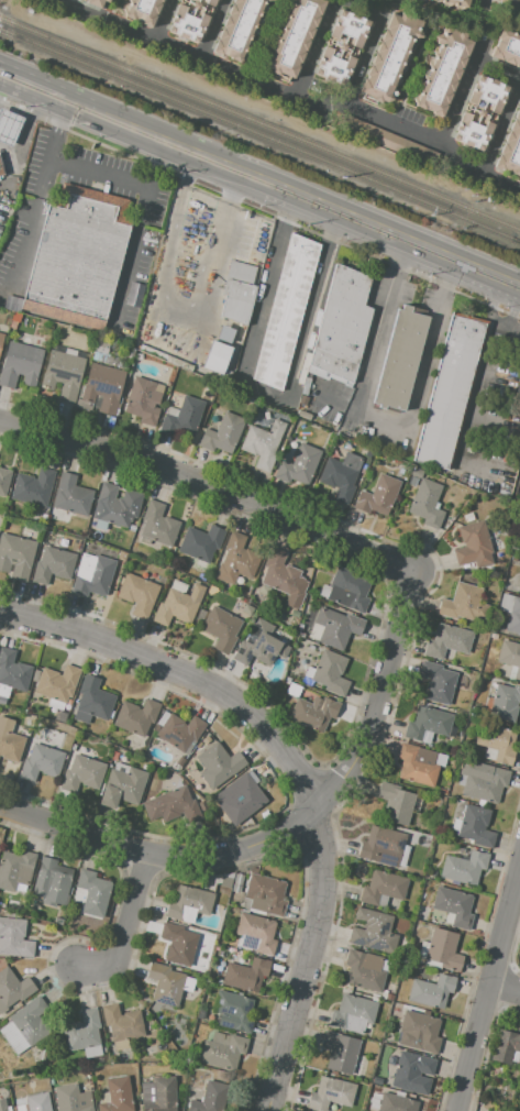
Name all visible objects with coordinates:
building: (96, 2)
building: (509, 2)
building: (447, 3)
road: (477, 4)
building: (143, 11)
road: (161, 20)
building: (189, 20)
building: (239, 29)
road: (210, 30)
building: (294, 36)
building: (341, 46)
building: (507, 48)
road: (313, 50)
road: (363, 56)
building: (389, 57)
building: (442, 70)
road: (496, 71)
road: (3, 82)
road: (31, 87)
road: (458, 94)
road: (290, 97)
road: (79, 107)
road: (36, 108)
building: (478, 112)
railway: (259, 123)
building: (8, 127)
gas station: (8, 127)
road: (500, 127)
railway: (259, 134)
building: (389, 141)
road: (18, 144)
building: (510, 148)
road: (161, 165)
building: (1, 172)
road: (34, 194)
road: (308, 202)
road: (225, 204)
road: (147, 205)
building: (0, 229)
building: (76, 264)
road: (163, 280)
building: (237, 293)
building: (287, 312)
road: (490, 313)
building: (15, 318)
building: (342, 323)
building: (12, 324)
building: (224, 334)
building: (1, 338)
building: (102, 348)
building: (129, 353)
building: (137, 356)
building: (215, 358)
building: (399, 359)
building: (20, 364)
road: (486, 366)
building: (63, 374)
building: (228, 374)
building: (187, 376)
building: (199, 380)
building: (102, 386)
road: (262, 387)
building: (451, 392)
building: (145, 399)
building: (172, 411)
building: (303, 415)
building: (182, 417)
road: (378, 417)
building: (223, 433)
building: (401, 438)
building: (263, 443)
building: (299, 465)
building: (416, 473)
building: (341, 475)
building: (3, 481)
building: (410, 482)
building: (33, 487)
road: (212, 490)
building: (71, 496)
building: (377, 496)
building: (427, 504)
building: (117, 505)
building: (467, 517)
building: (158, 525)
building: (47, 539)
building: (201, 542)
building: (474, 546)
building: (91, 547)
building: (15, 555)
building: (236, 560)
building: (53, 565)
building: (198, 565)
building: (279, 573)
building: (92, 574)
building: (201, 577)
building: (517, 583)
building: (178, 586)
building: (347, 590)
building: (137, 595)
building: (464, 604)
building: (505, 604)
building: (178, 605)
building: (200, 615)
building: (513, 616)
building: (338, 627)
building: (221, 628)
building: (314, 631)
building: (494, 636)
building: (447, 641)
building: (261, 645)
building: (510, 656)
building: (13, 672)
building: (309, 672)
building: (330, 672)
building: (512, 673)
building: (287, 681)
building: (438, 682)
building: (56, 683)
building: (292, 691)
building: (93, 700)
building: (3, 701)
building: (505, 702)
building: (55, 705)
building: (314, 712)
building: (136, 716)
building: (81, 718)
building: (428, 724)
building: (179, 732)
building: (10, 743)
building: (497, 743)
building: (42, 763)
building: (218, 765)
building: (417, 766)
building: (145, 767)
road: (298, 772)
building: (82, 773)
building: (486, 785)
building: (122, 787)
building: (442, 792)
building: (244, 796)
building: (396, 803)
building: (172, 805)
building: (454, 827)
building: (475, 827)
road: (285, 833)
building: (425, 842)
building: (381, 847)
building: (405, 855)
building: (464, 868)
building: (15, 869)
building: (212, 878)
building: (239, 878)
building: (52, 882)
building: (225, 883)
building: (383, 887)
building: (235, 889)
building: (93, 892)
building: (265, 894)
building: (189, 904)
building: (454, 905)
building: (403, 913)
building: (12, 914)
building: (449, 919)
road: (123, 921)
building: (58, 922)
building: (257, 932)
building: (373, 932)
building: (14, 938)
building: (178, 944)
building: (442, 950)
building: (364, 971)
building: (245, 975)
building: (165, 983)
building: (188, 985)
road: (487, 986)
building: (13, 988)
building: (431, 991)
road: (504, 991)
building: (383, 996)
building: (203, 1000)
building: (232, 1012)
building: (353, 1014)
building: (200, 1015)
building: (397, 1016)
building: (122, 1025)
building: (25, 1026)
building: (421, 1030)
building: (84, 1034)
building: (505, 1047)
building: (222, 1050)
building: (340, 1052)
building: (41, 1055)
building: (359, 1066)
building: (407, 1071)
building: (377, 1079)
building: (52, 1082)
building: (331, 1093)
building: (115, 1094)
building: (158, 1094)
building: (210, 1098)
building: (71, 1099)
building: (1, 1102)
building: (37, 1102)
building: (397, 1103)
building: (2, 1108)
building: (493, 1110)

